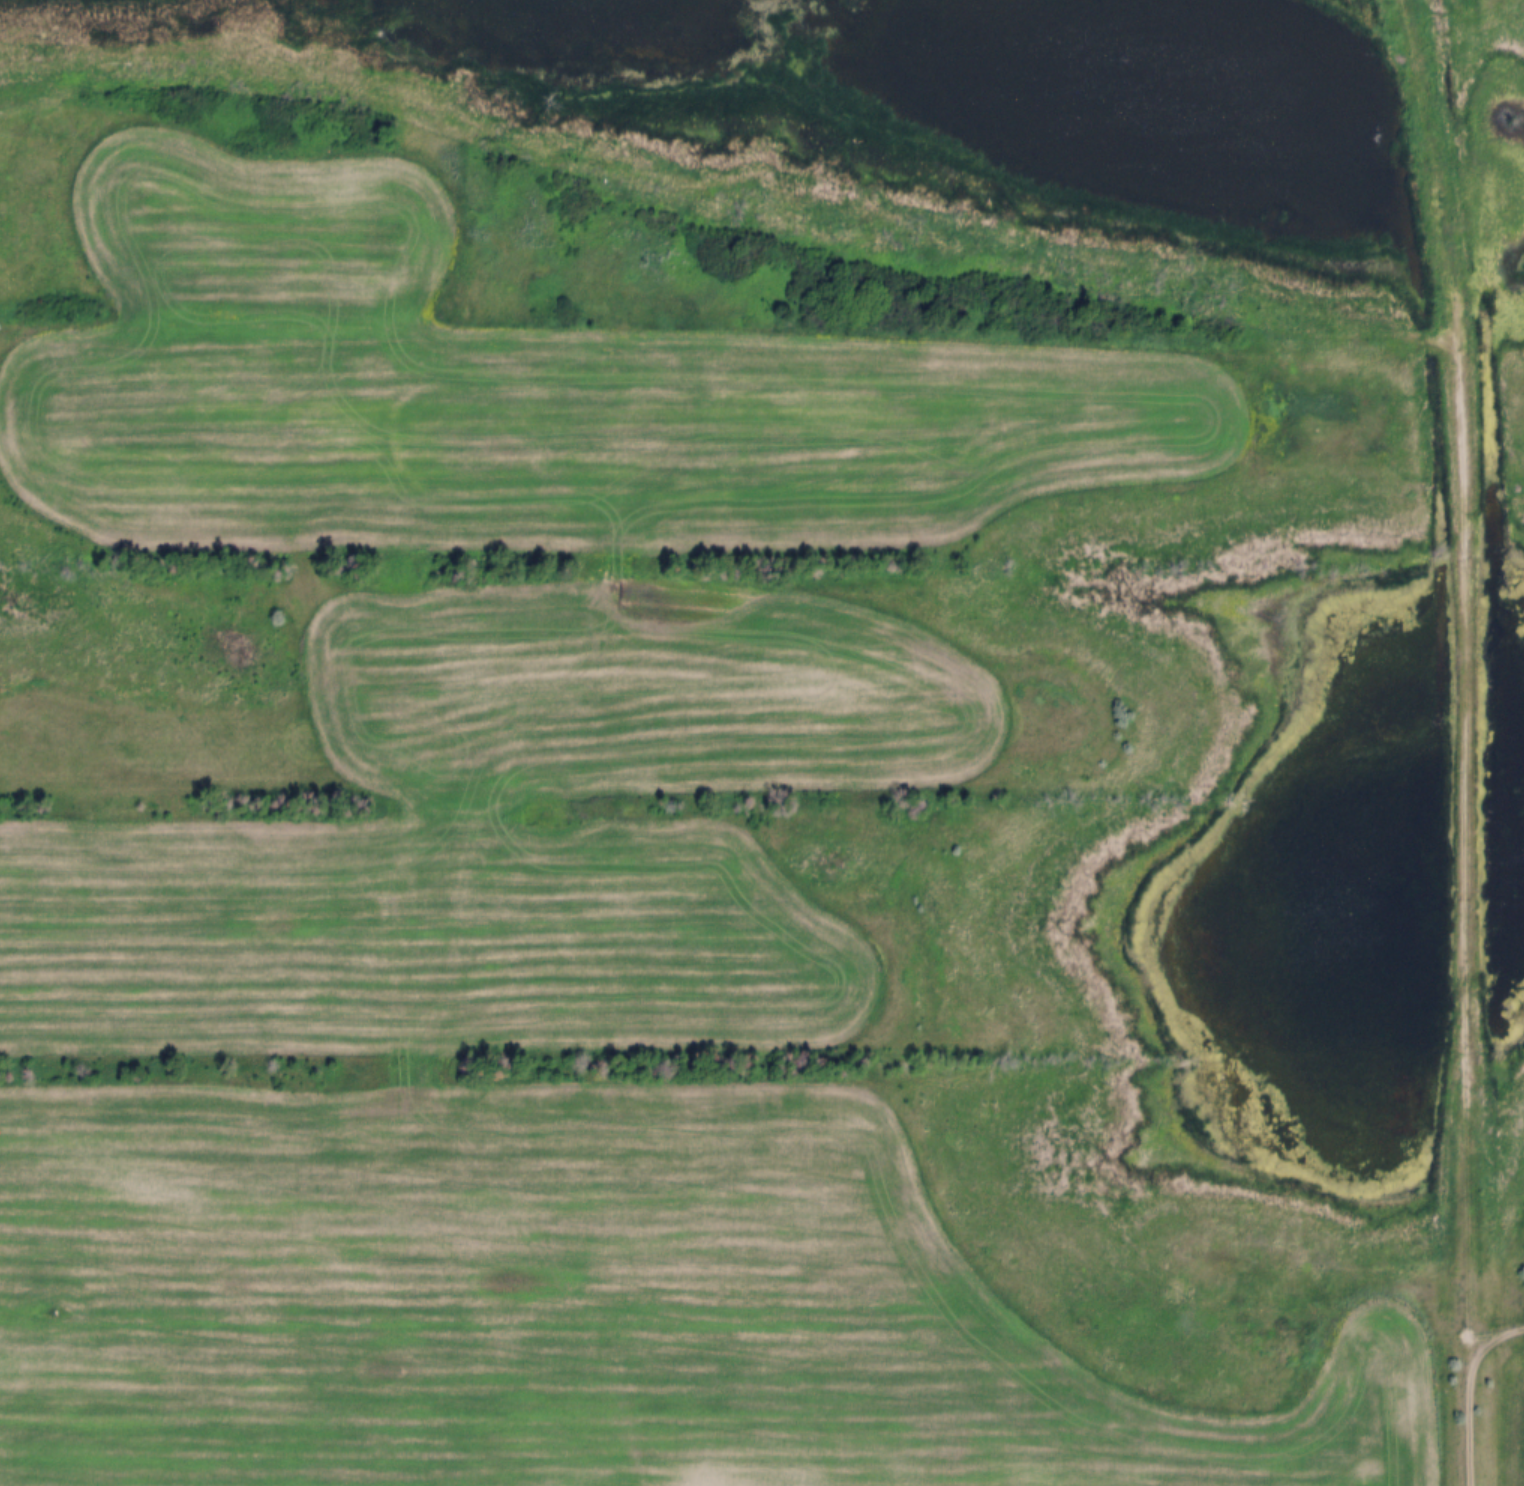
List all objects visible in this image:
road: (1494, 1333)
road: (1466, 1412)

